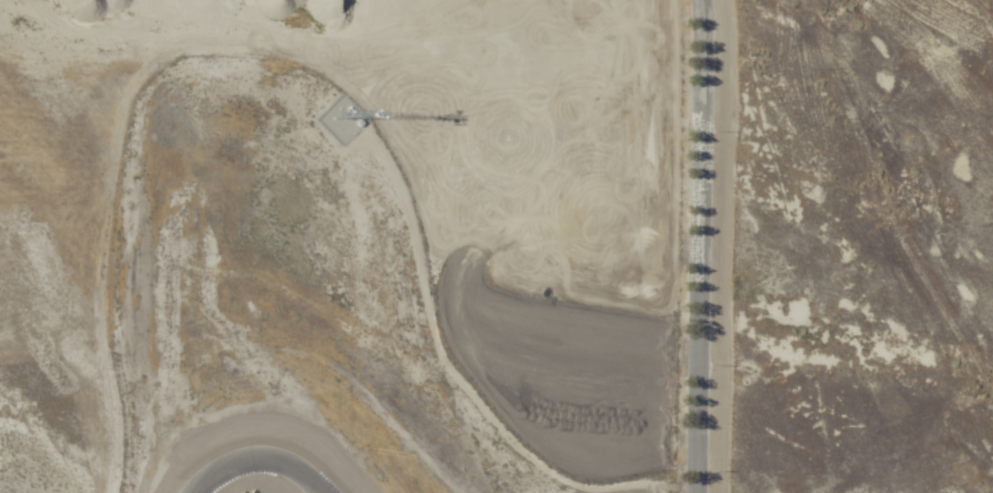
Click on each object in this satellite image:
stadium: (346, 246)
crop: (382, 246)
road: (694, 246)
crop: (855, 247)
raceway: (267, 462)

